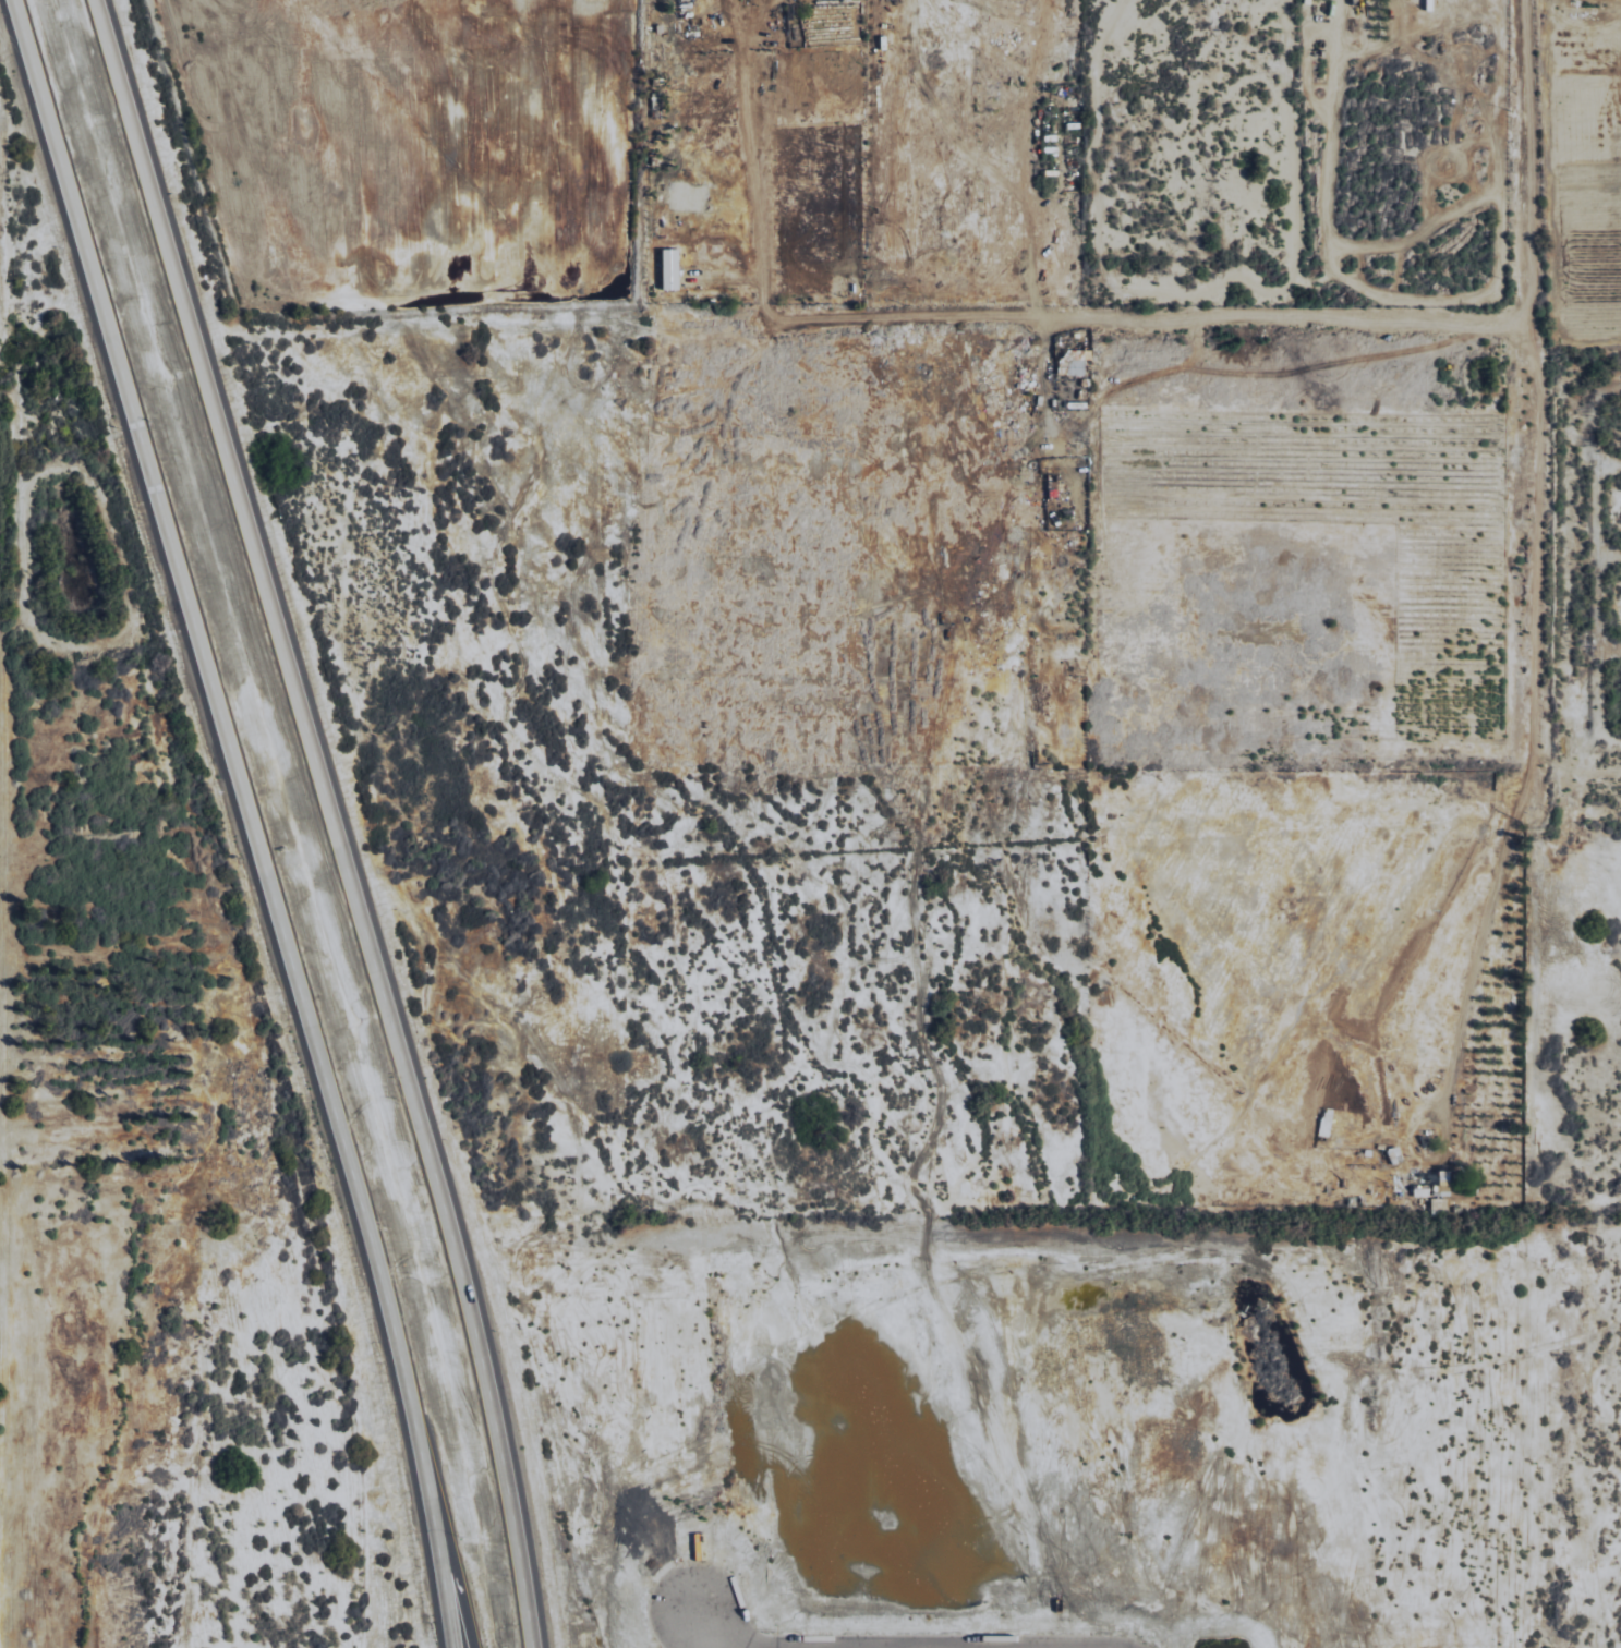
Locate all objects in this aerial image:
road: (1519, 168)
building: (672, 269)
road: (936, 316)
road: (218, 719)
road: (331, 820)
road: (436, 1544)
road: (446, 1544)
road: (903, 1644)
road: (730, 1646)
road: (740, 1646)
road: (820, 1646)

